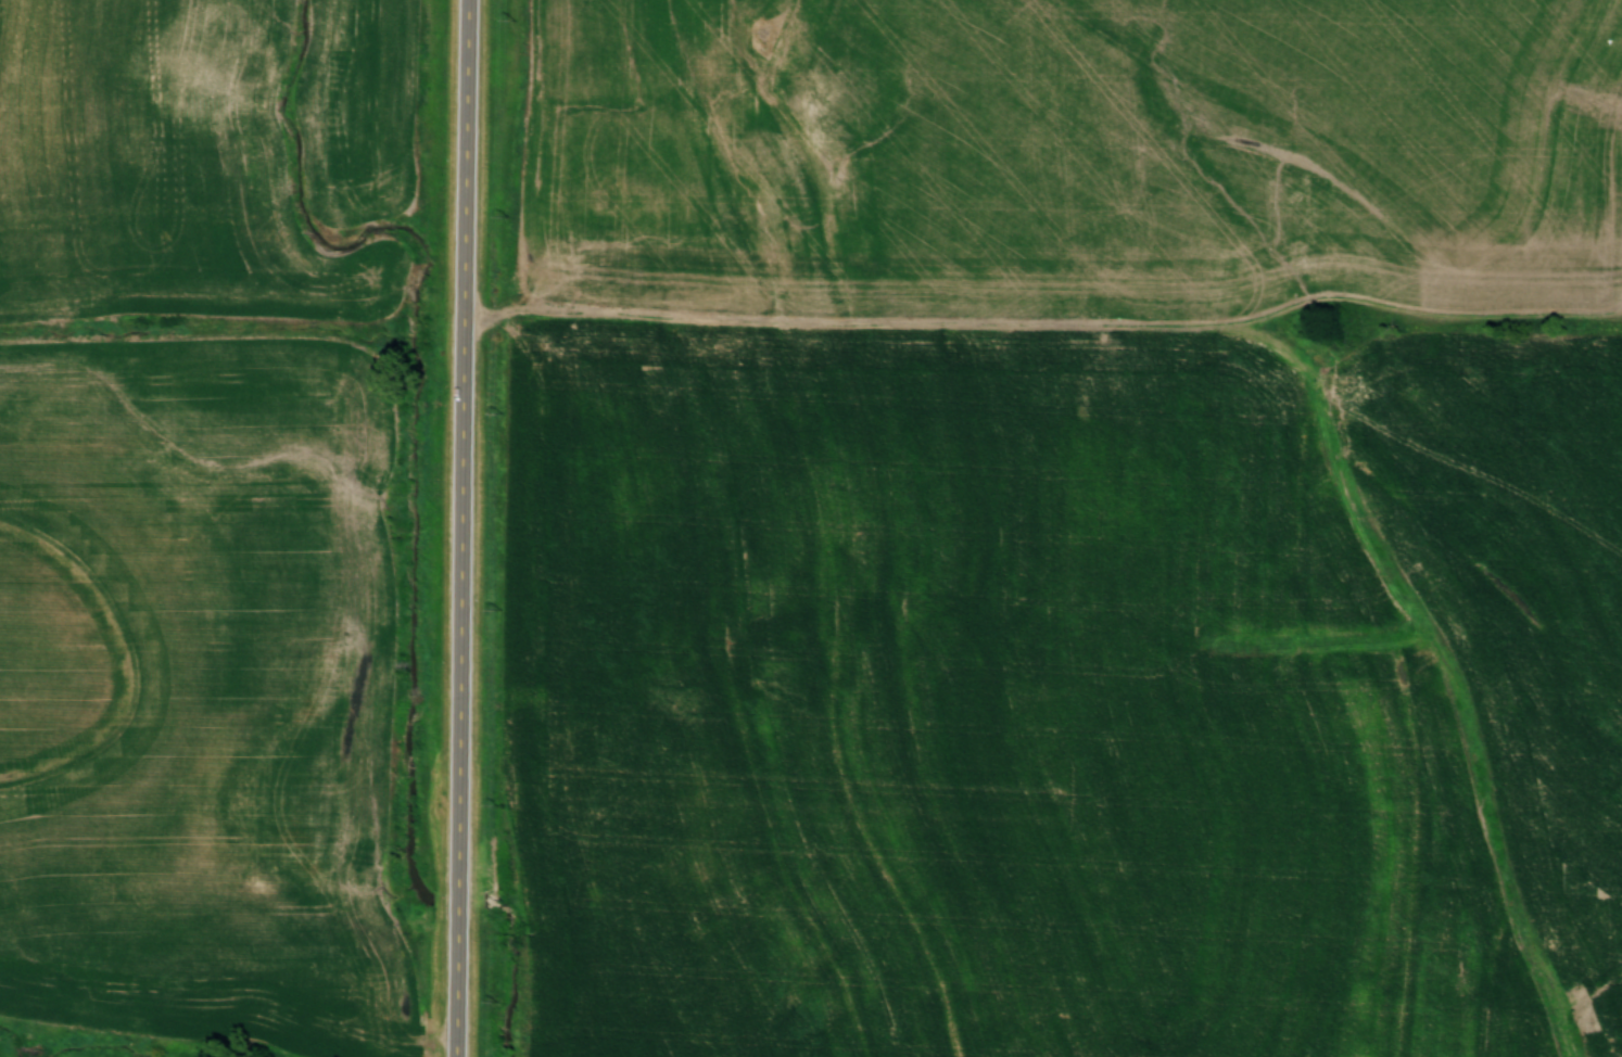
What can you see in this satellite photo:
road: (467, 527)

